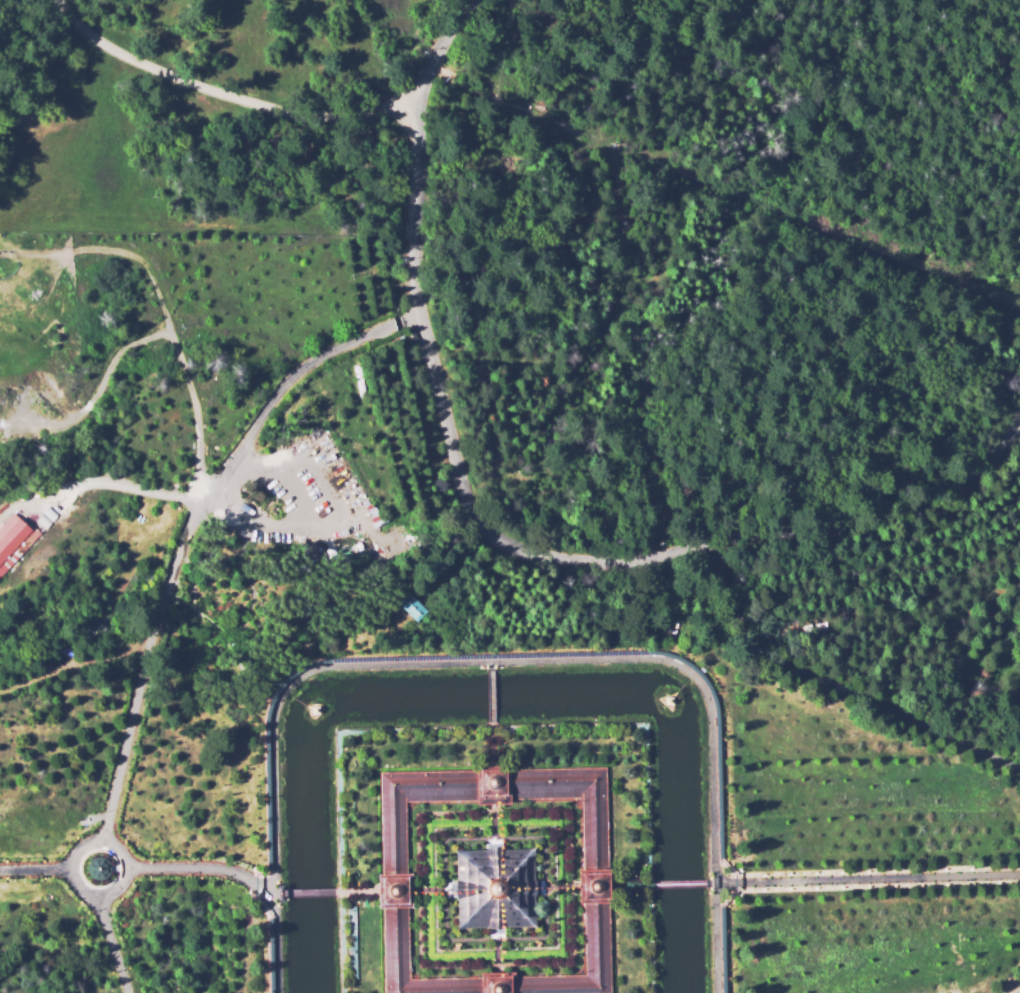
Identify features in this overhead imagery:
power tower: (420, 53)
road: (233, 96)
parking lot: (320, 492)
building: (62, 503)
building: (50, 512)
building: (395, 526)
road: (193, 528)
road: (499, 532)
building: (14, 539)
building: (414, 605)
road: (495, 663)
road: (489, 667)
road: (835, 681)
road: (490, 699)
building: (669, 700)
building: (315, 709)
road: (491, 747)
road: (492, 785)
road: (492, 809)
road: (35, 869)
building: (99, 869)
road: (202, 869)
road: (866, 879)
building: (392, 880)
road: (680, 883)
road: (711, 883)
road: (630, 884)
road: (593, 885)
road: (574, 886)
road: (114, 887)
building: (492, 887)
road: (392, 890)
road: (415, 890)
road: (357, 891)
building: (279, 892)
road: (310, 892)
road: (277, 893)
road: (111, 943)
road: (572, 963)
road: (496, 970)
road: (496, 983)

